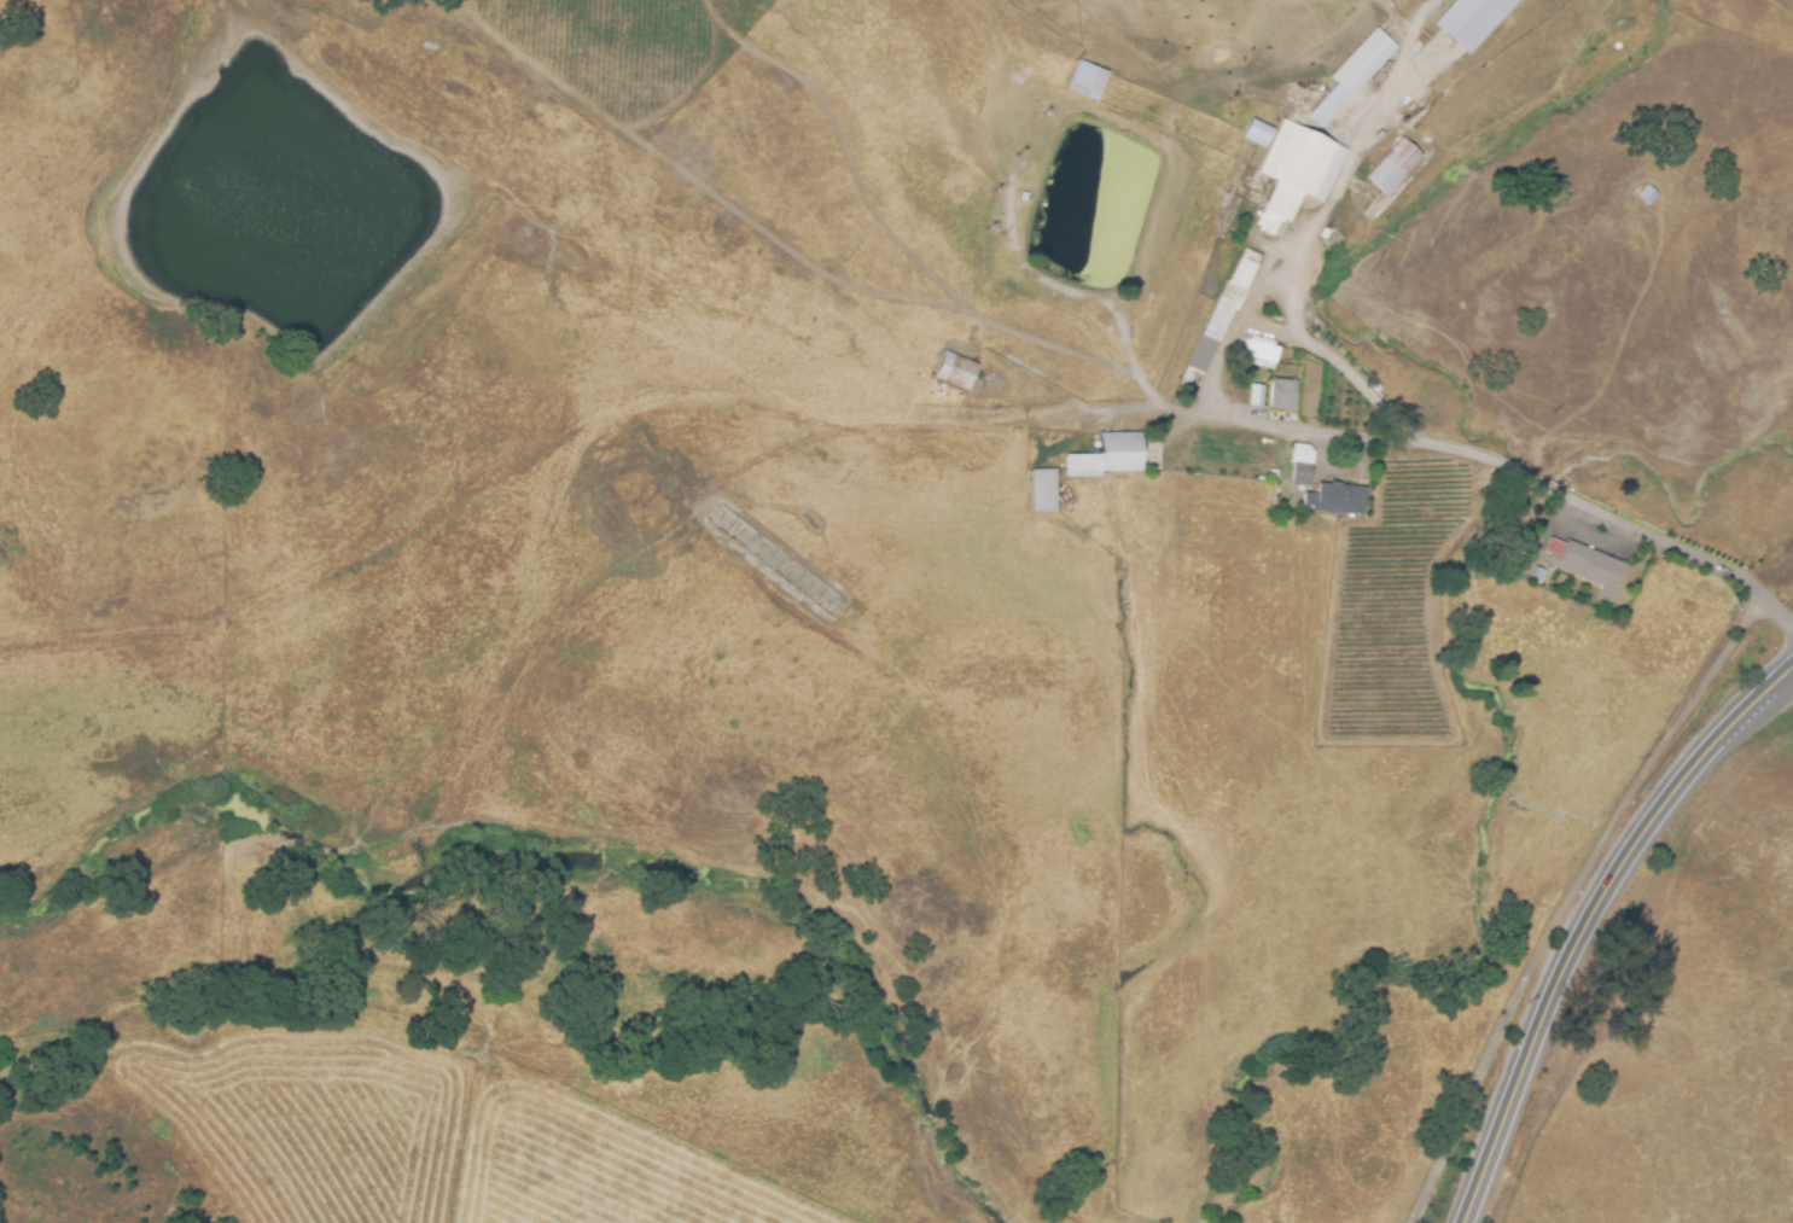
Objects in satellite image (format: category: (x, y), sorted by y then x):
building: (1471, 19)
building: (1355, 74)
building: (1094, 86)
building: (1297, 168)
building: (1395, 168)
road: (1311, 232)
building: (1227, 319)
building: (1267, 359)
building: (953, 371)
building: (1286, 397)
building: (1262, 400)
building: (1110, 456)
road: (1518, 472)
building: (1303, 476)
building: (1048, 489)
building: (1344, 496)
building: (1590, 565)
building: (1541, 578)
road: (1585, 919)

